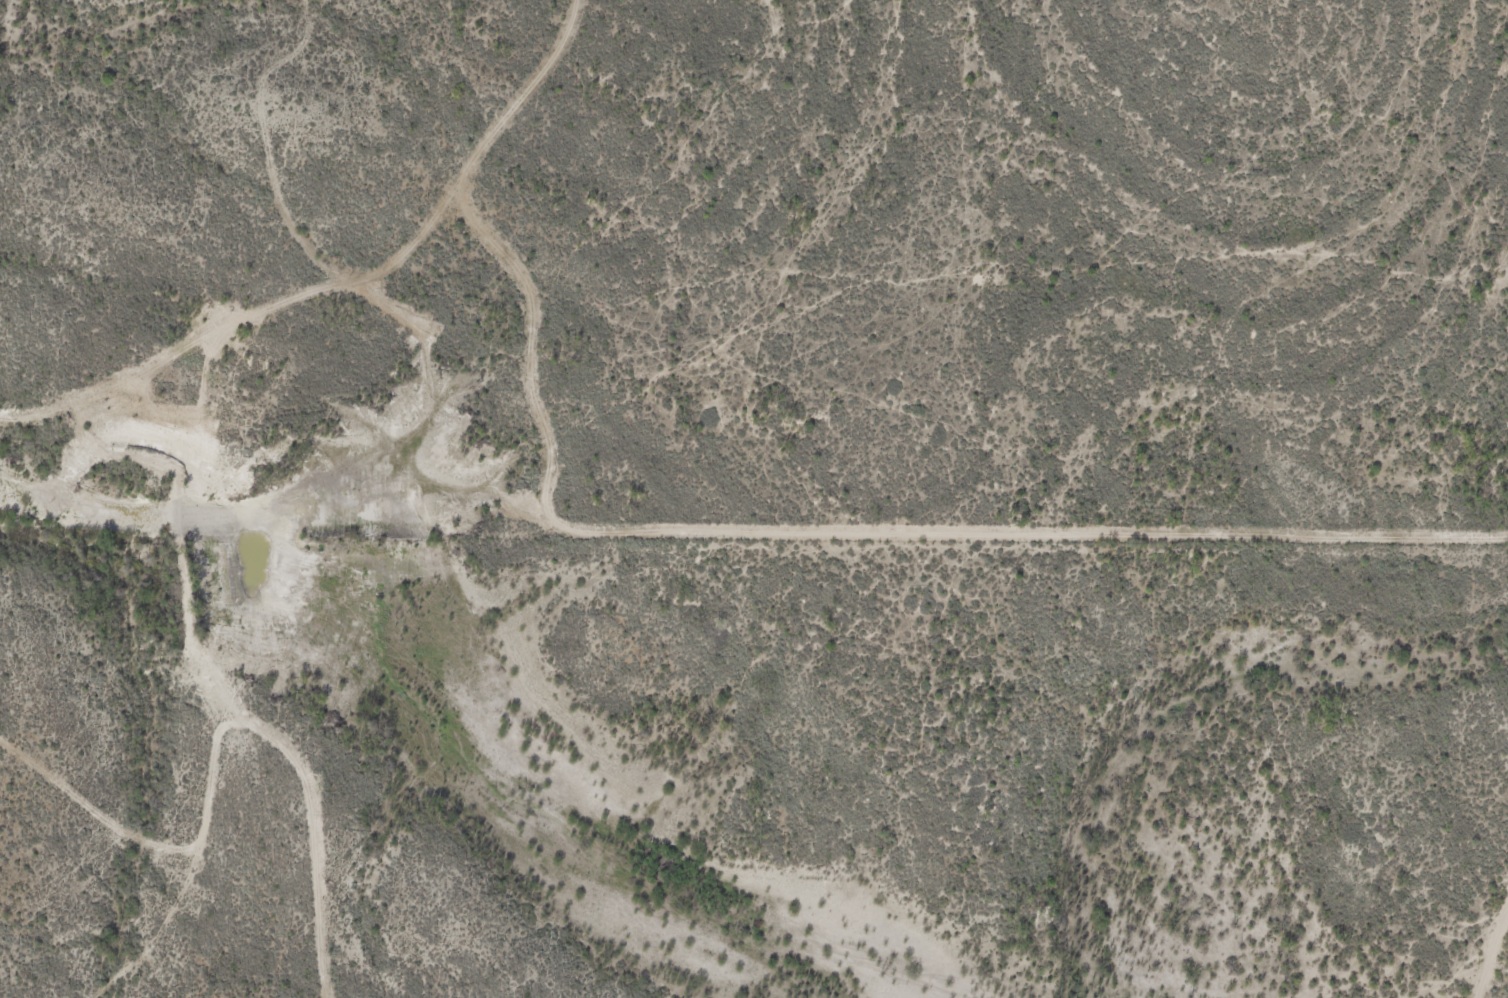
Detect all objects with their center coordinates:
road: (348, 284)
road: (395, 741)
road: (167, 817)
road: (1394, 886)
road: (293, 950)
road: (329, 950)

